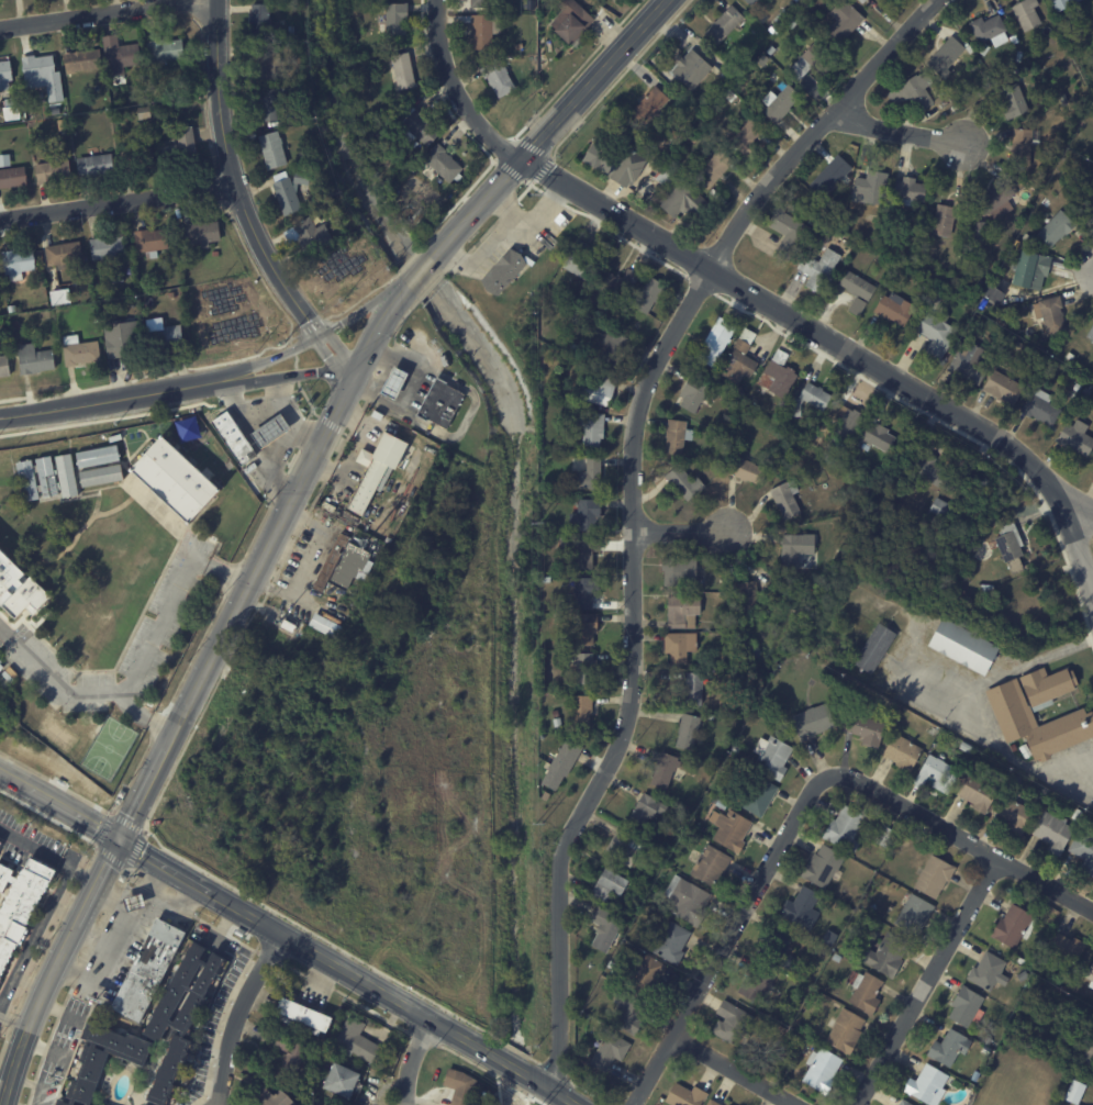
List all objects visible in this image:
building: (602, 0)
building: (747, 1)
building: (861, 1)
building: (1058, 3)
building: (483, 4)
road: (92, 13)
building: (1024, 13)
building: (780, 18)
building: (399, 20)
building: (575, 21)
building: (263, 22)
building: (844, 22)
building: (724, 25)
building: (989, 30)
building: (486, 31)
building: (305, 48)
building: (749, 48)
building: (982, 48)
building: (167, 49)
building: (772, 52)
building: (122, 54)
building: (1016, 55)
building: (943, 56)
building: (812, 59)
building: (86, 60)
building: (535, 60)
building: (267, 65)
building: (40, 66)
building: (690, 69)
building: (7, 70)
building: (1017, 71)
building: (405, 72)
building: (726, 75)
building: (143, 76)
building: (501, 79)
building: (935, 89)
road: (456, 91)
building: (955, 91)
building: (912, 92)
building: (727, 94)
building: (1092, 99)
building: (1012, 101)
building: (776, 102)
building: (647, 104)
building: (275, 105)
building: (56, 110)
building: (145, 112)
building: (391, 126)
building: (423, 129)
road: (548, 129)
road: (895, 130)
building: (375, 133)
building: (690, 135)
building: (744, 137)
building: (1018, 147)
building: (677, 149)
building: (276, 152)
building: (183, 154)
building: (137, 160)
building: (614, 164)
building: (859, 164)
building: (98, 165)
building: (446, 165)
building: (711, 169)
building: (55, 171)
building: (12, 174)
building: (828, 176)
road: (234, 178)
building: (866, 189)
building: (906, 190)
building: (292, 192)
power tower: (537, 193)
building: (679, 199)
building: (993, 199)
road: (118, 203)
building: (314, 204)
building: (806, 209)
building: (1089, 210)
building: (869, 217)
building: (944, 217)
building: (978, 228)
building: (1055, 230)
building: (203, 234)
building: (787, 234)
building: (313, 235)
building: (153, 242)
building: (110, 247)
building: (216, 253)
building: (66, 254)
building: (20, 261)
building: (908, 261)
building: (583, 263)
building: (505, 266)
building: (816, 269)
building: (1027, 269)
road: (420, 271)
building: (113, 277)
building: (146, 283)
building: (621, 283)
building: (854, 284)
building: (174, 295)
building: (651, 295)
building: (991, 295)
building: (46, 305)
building: (854, 306)
building: (14, 309)
building: (893, 310)
building: (573, 311)
building: (963, 311)
building: (1049, 314)
building: (939, 315)
building: (30, 320)
building: (97, 320)
building: (959, 321)
building: (15, 325)
building: (1090, 333)
building: (167, 335)
building: (934, 335)
road: (315, 337)
building: (741, 337)
building: (713, 338)
building: (124, 339)
building: (5, 342)
road: (837, 344)
building: (617, 346)
building: (1018, 348)
building: (81, 350)
road: (342, 351)
building: (1069, 356)
building: (34, 358)
road: (330, 360)
building: (967, 365)
building: (4, 366)
building: (737, 366)
building: (778, 375)
road: (286, 376)
building: (393, 382)
gas station: (393, 382)
building: (1001, 389)
building: (602, 390)
building: (691, 392)
building: (1083, 393)
building: (810, 399)
road: (109, 400)
building: (440, 403)
road: (247, 406)
building: (1037, 409)
building: (845, 420)
building: (188, 427)
building: (594, 428)
building: (130, 431)
building: (269, 431)
gas station: (269, 431)
road: (311, 431)
building: (674, 435)
building: (232, 437)
road: (288, 437)
building: (875, 437)
building: (1074, 438)
building: (834, 444)
building: (97, 455)
building: (829, 459)
building: (376, 469)
building: (745, 469)
building: (925, 469)
building: (589, 473)
building: (66, 475)
building: (100, 475)
building: (46, 476)
building: (26, 480)
building: (174, 480)
building: (682, 482)
building: (546, 490)
building: (783, 499)
road: (633, 502)
building: (938, 506)
road: (1082, 513)
building: (587, 514)
power tower: (538, 523)
road: (681, 532)
building: (388, 540)
building: (1010, 545)
building: (794, 548)
building: (581, 554)
building: (344, 563)
road: (310, 565)
road: (254, 571)
building: (678, 571)
building: (18, 587)
building: (590, 592)
building: (960, 592)
building: (747, 594)
road: (174, 598)
building: (681, 611)
building: (288, 626)
building: (325, 626)
building: (589, 629)
road: (5, 633)
building: (562, 641)
building: (678, 645)
building: (961, 646)
building: (872, 648)
building: (587, 668)
building: (1044, 684)
building: (691, 687)
road: (90, 691)
building: (548, 694)
building: (557, 714)
building: (584, 714)
building: (810, 719)
building: (558, 723)
building: (1069, 723)
building: (862, 727)
building: (685, 729)
park: (57, 733)
building: (963, 746)
park: (109, 748)
building: (902, 751)
building: (771, 756)
road: (1013, 756)
building: (564, 763)
building: (661, 769)
building: (692, 774)
building: (936, 774)
road: (56, 782)
building: (977, 791)
building: (757, 795)
road: (59, 802)
building: (721, 804)
road: (801, 807)
building: (643, 810)
building: (1012, 813)
building: (1075, 814)
power tower: (538, 821)
road: (127, 822)
building: (847, 826)
road: (104, 829)
building: (732, 829)
building: (1051, 830)
road: (146, 831)
building: (882, 835)
traffic signals: (120, 837)
building: (0, 841)
building: (621, 847)
building: (1083, 850)
road: (48, 853)
building: (819, 864)
building: (709, 866)
road: (126, 868)
building: (932, 875)
building: (604, 884)
road: (91, 889)
road: (105, 891)
road: (120, 893)
road: (70, 900)
building: (684, 900)
building: (135, 901)
gas station: (135, 901)
road: (179, 903)
building: (20, 904)
building: (800, 908)
building: (911, 913)
road: (224, 923)
building: (1012, 925)
building: (602, 927)
road: (71, 931)
building: (825, 936)
road: (94, 937)
road: (120, 939)
building: (669, 941)
building: (1062, 946)
building: (777, 947)
road: (312, 950)
building: (883, 953)
building: (836, 958)
building: (1017, 959)
building: (148, 970)
building: (986, 971)
road: (51, 973)
building: (1089, 973)
building: (1019, 974)
building: (644, 976)
building: (756, 982)
road: (927, 982)
building: (1062, 989)
building: (863, 991)
building: (963, 1006)
road: (59, 1011)
building: (626, 1012)
road: (32, 1013)
road: (238, 1014)
building: (179, 1015)
building: (302, 1015)
road: (13, 1020)
building: (729, 1023)
building: (843, 1030)
road: (25, 1034)
building: (356, 1039)
building: (985, 1042)
building: (946, 1047)
road: (45, 1048)
building: (290, 1050)
building: (1088, 1050)
building: (606, 1051)
road: (15, 1059)
building: (104, 1059)
road: (413, 1060)
road: (516, 1068)
building: (819, 1070)
road: (735, 1071)
building: (338, 1079)
building: (925, 1084)
road: (33, 1085)
building: (459, 1086)
road: (553, 1089)
road: (7, 1092)
building: (1073, 1092)
building: (682, 1095)
building: (270, 1097)
building: (709, 1103)
building: (901, 1103)
building: (62, 1104)
building: (144, 1104)

